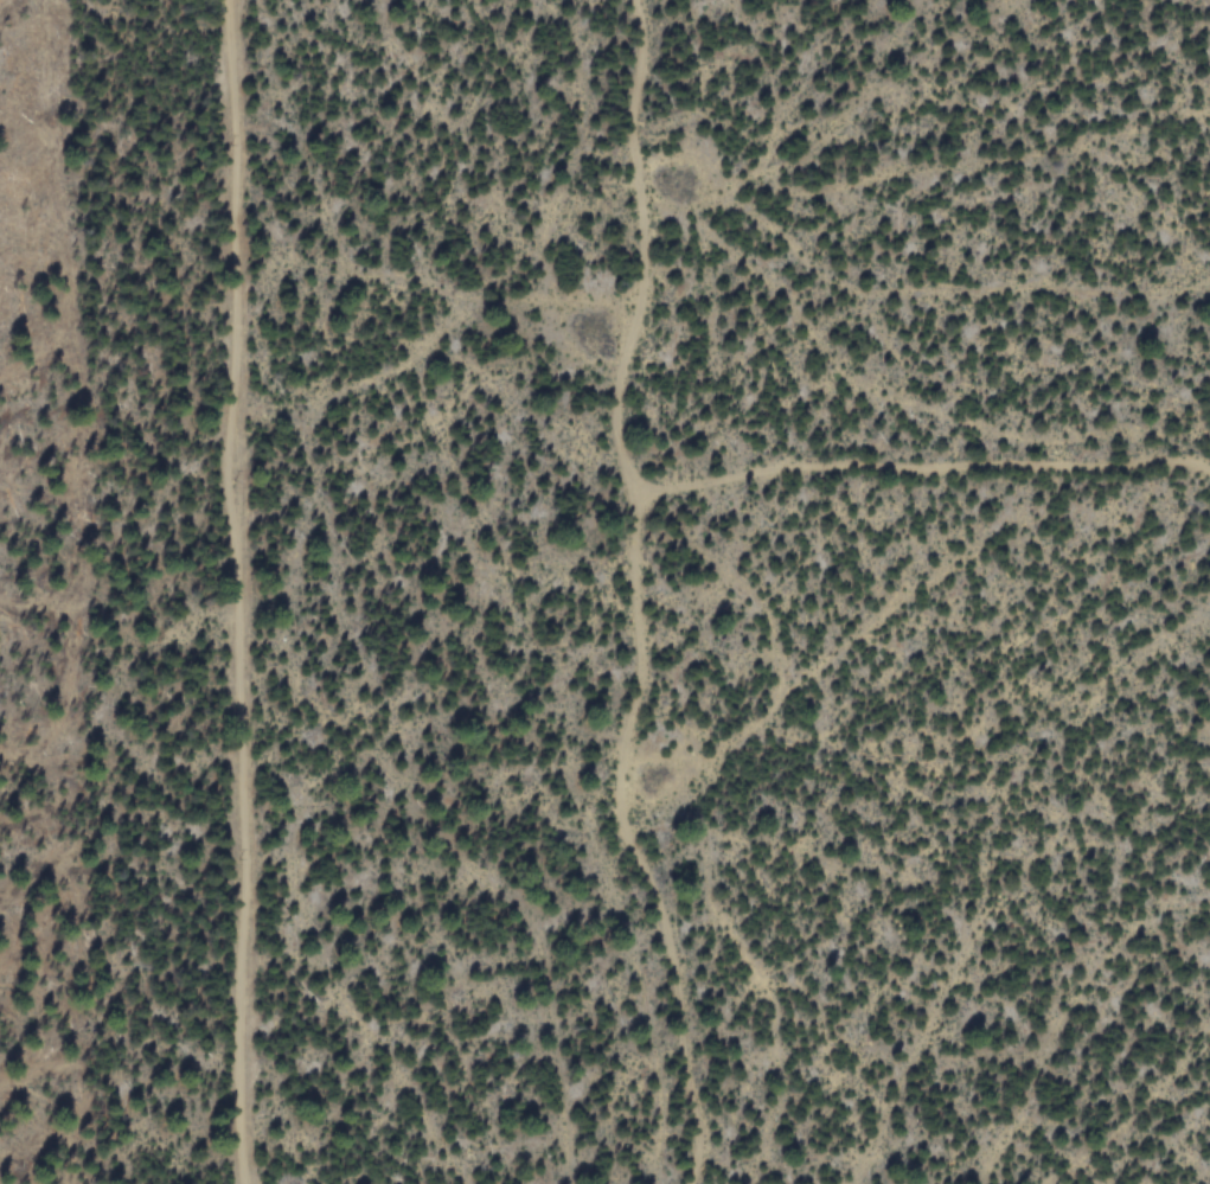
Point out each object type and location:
road: (642, 243)
road: (923, 480)
road: (245, 591)
road: (622, 844)

